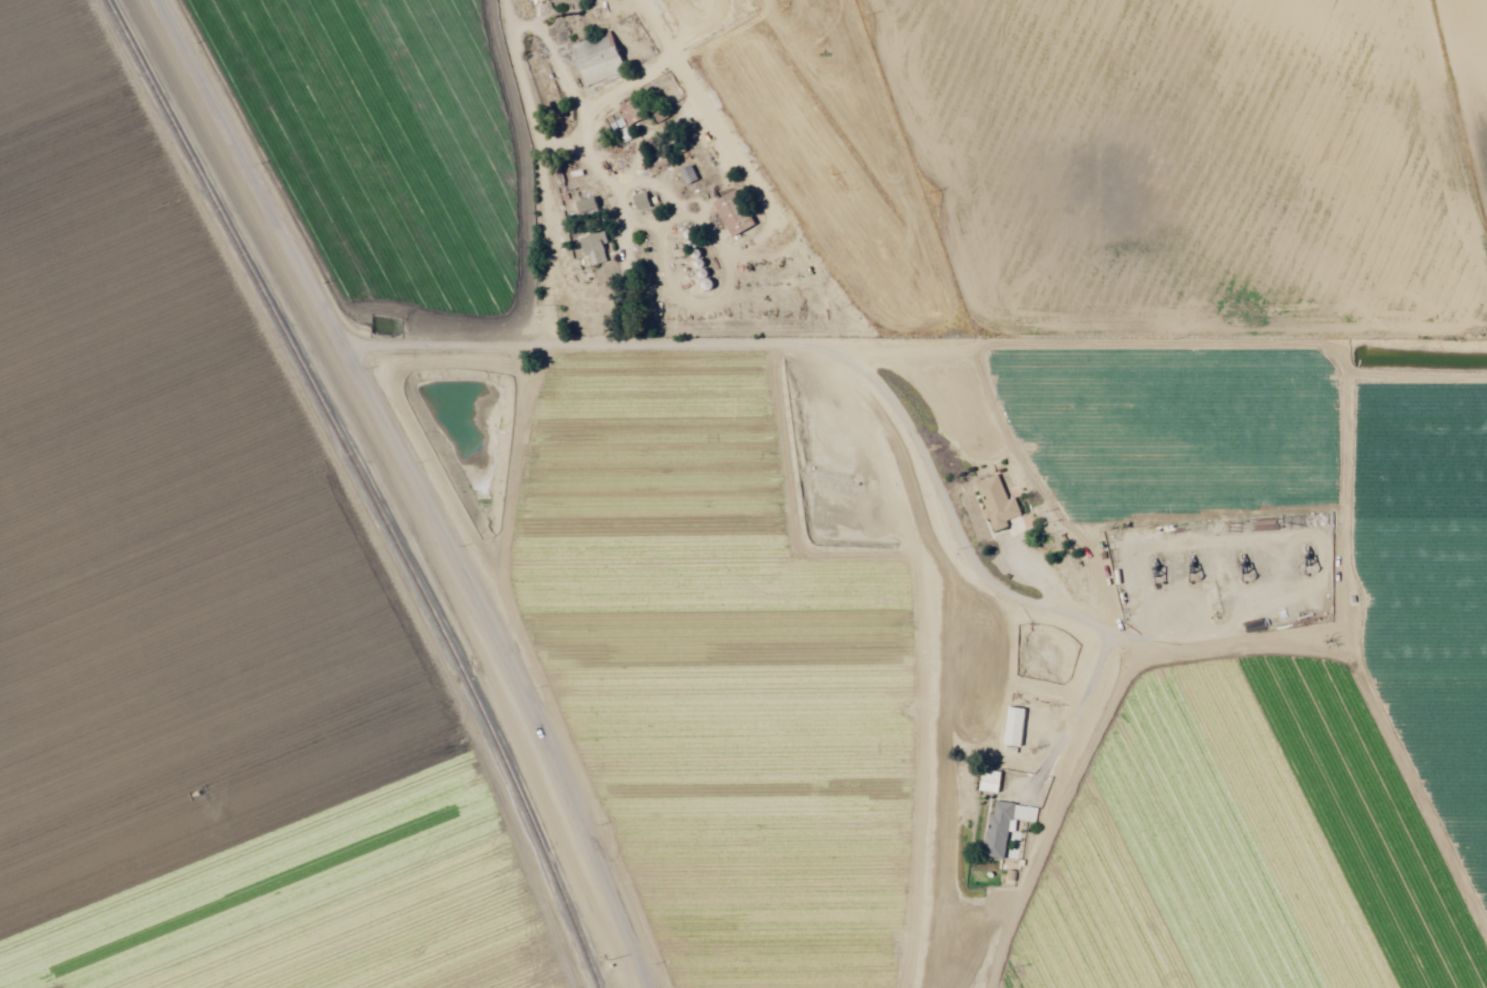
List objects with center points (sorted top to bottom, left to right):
building: (533, 0)
building: (592, 57)
building: (625, 111)
building: (615, 129)
building: (646, 146)
building: (682, 174)
road: (548, 186)
building: (635, 200)
building: (581, 204)
building: (727, 213)
building: (588, 246)
crop: (955, 454)
road: (1012, 463)
railway: (366, 486)
road: (409, 487)
building: (991, 501)
road: (887, 554)
crop: (194, 625)
road: (1204, 636)
building: (1008, 725)
building: (984, 780)
building: (999, 825)

